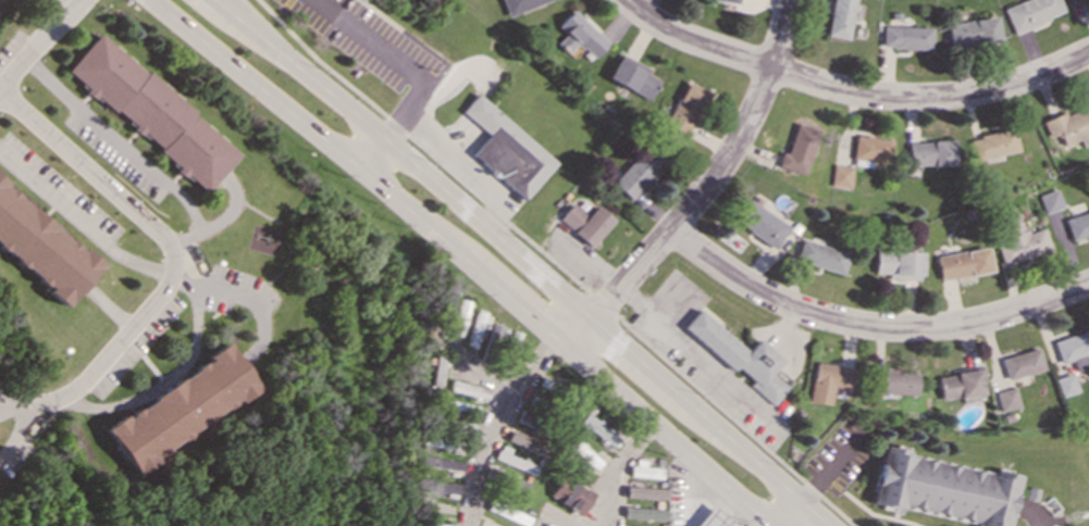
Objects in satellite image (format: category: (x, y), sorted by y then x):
building: (730, 1)
building: (1080, 1)
building: (518, 4)
building: (1030, 12)
building: (838, 18)
building: (972, 32)
building: (579, 35)
building: (904, 36)
road: (38, 43)
road: (399, 60)
building: (632, 77)
road: (850, 91)
building: (684, 108)
building: (150, 112)
building: (1067, 125)
road: (117, 141)
building: (991, 143)
road: (421, 147)
building: (506, 149)
building: (796, 149)
building: (867, 151)
building: (929, 152)
road: (373, 154)
road: (462, 164)
building: (636, 172)
building: (839, 176)
road: (703, 190)
building: (1050, 201)
road: (81, 222)
building: (584, 222)
road: (212, 224)
building: (759, 224)
building: (1077, 225)
building: (1018, 241)
building: (42, 248)
building: (818, 255)
road: (462, 259)
road: (522, 260)
road: (173, 262)
building: (962, 263)
building: (896, 264)
road: (253, 303)
road: (601, 304)
building: (460, 316)
road: (869, 326)
building: (475, 328)
building: (496, 331)
building: (1073, 348)
road: (696, 355)
building: (738, 355)
building: (1020, 363)
road: (479, 365)
road: (535, 367)
building: (438, 370)
road: (174, 374)
building: (826, 380)
building: (894, 381)
building: (958, 383)
building: (1065, 384)
building: (469, 389)
building: (1005, 399)
building: (460, 405)
building: (181, 406)
road: (5, 408)
road: (733, 422)
building: (598, 429)
building: (438, 440)
building: (523, 441)
building: (582, 453)
road: (481, 456)
building: (513, 460)
building: (441, 462)
building: (643, 468)
road: (617, 469)
building: (438, 486)
building: (941, 488)
building: (643, 492)
building: (570, 494)
building: (643, 513)
road: (554, 514)
road: (791, 514)
building: (711, 518)
building: (436, 524)
building: (547, 525)

